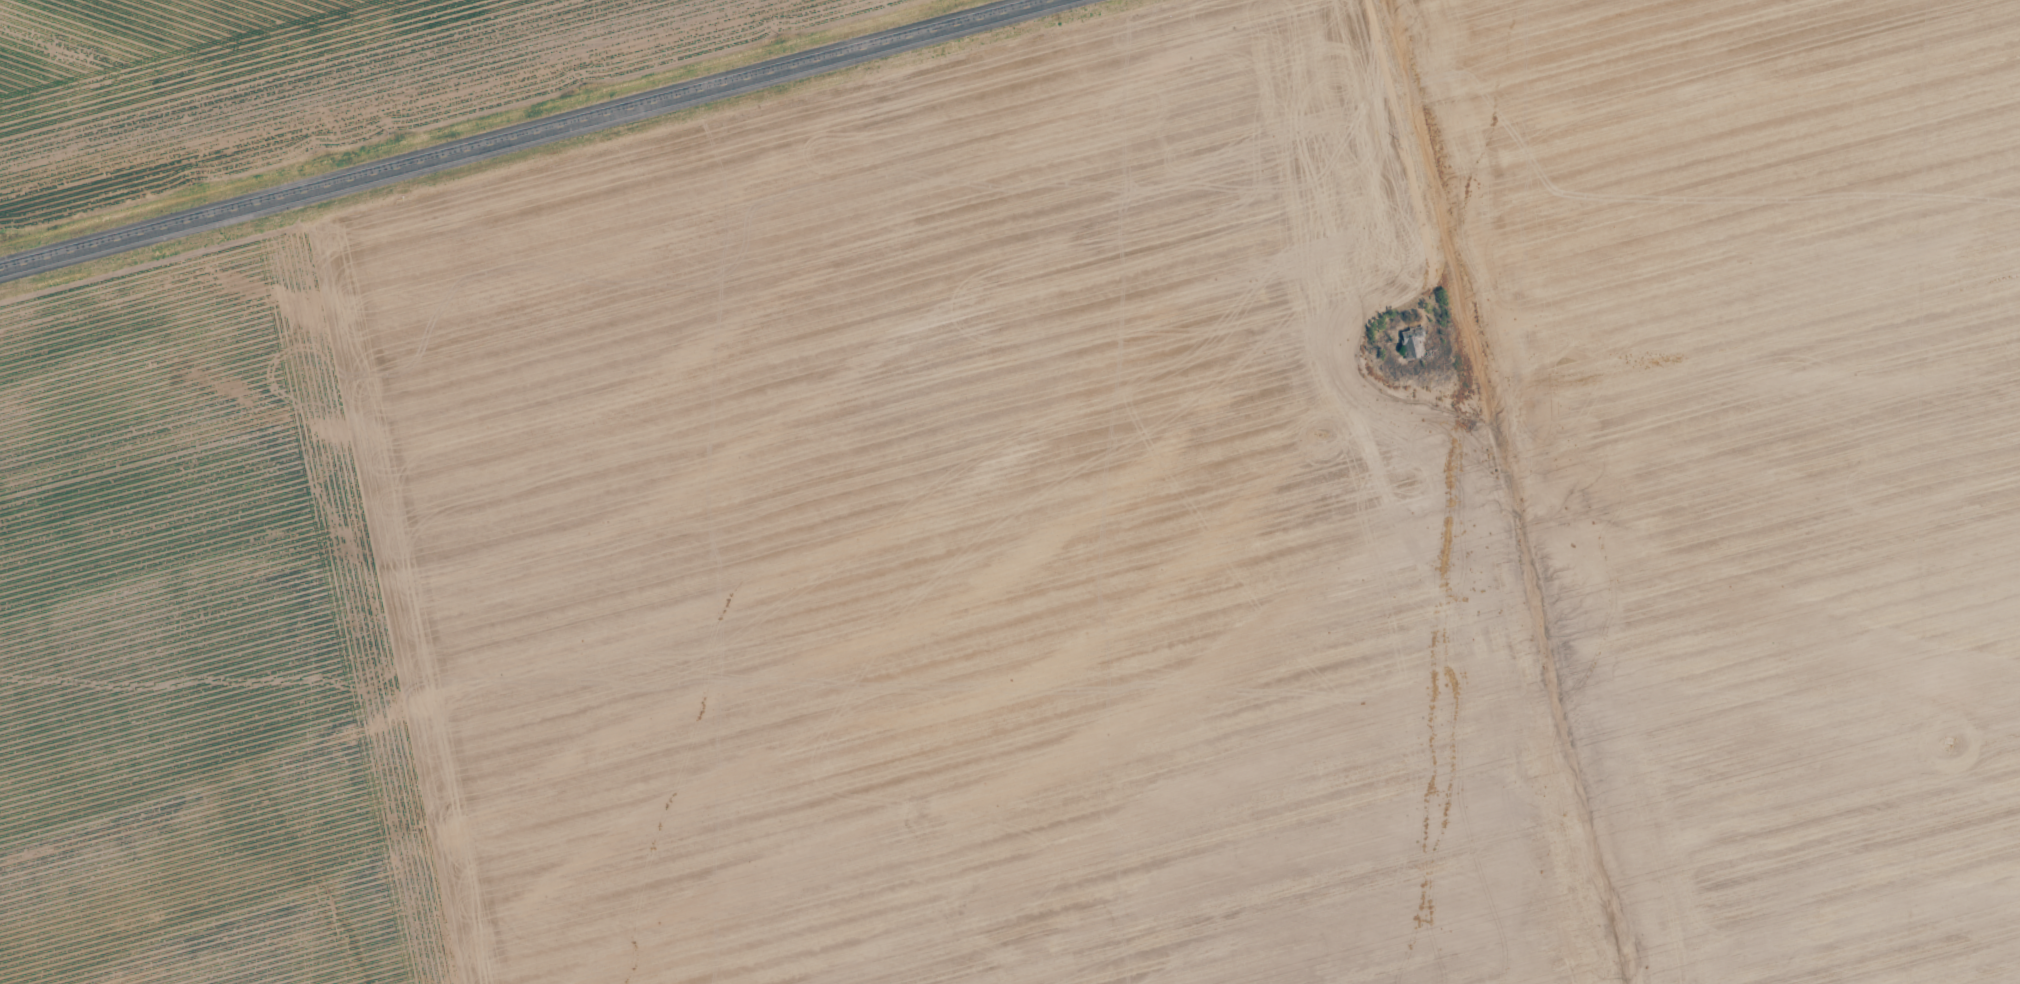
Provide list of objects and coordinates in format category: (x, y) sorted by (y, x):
railway: (278, 69)
road: (1388, 131)
road: (516, 133)

